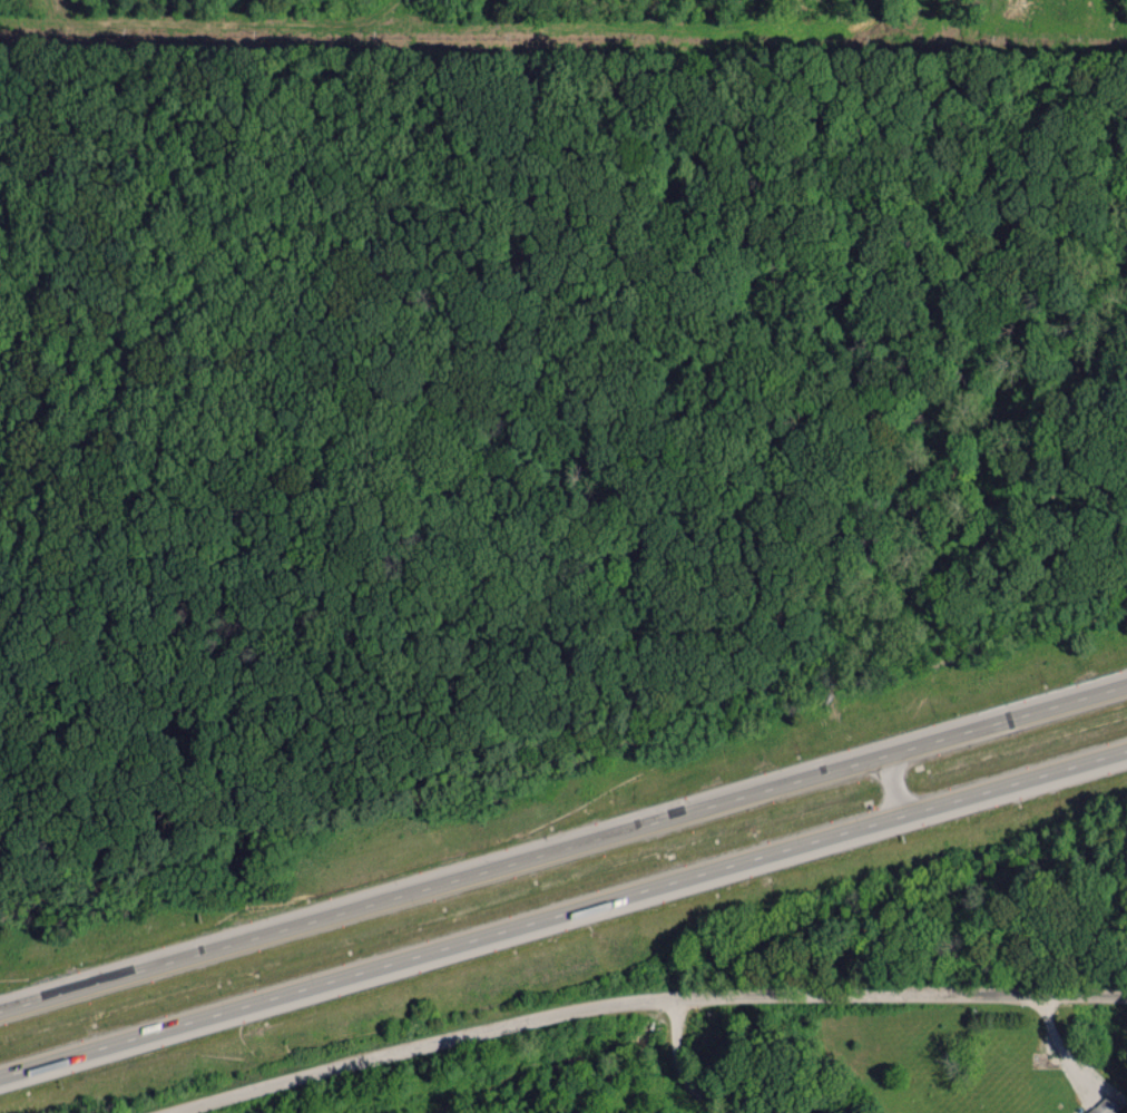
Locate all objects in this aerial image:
road: (1057, 709)
road: (935, 743)
road: (1065, 770)
road: (817, 777)
road: (892, 788)
road: (952, 802)
road: (842, 833)
road: (375, 902)
road: (391, 964)
road: (833, 988)
road: (364, 1065)
road: (680, 1066)
building: (1104, 1105)

